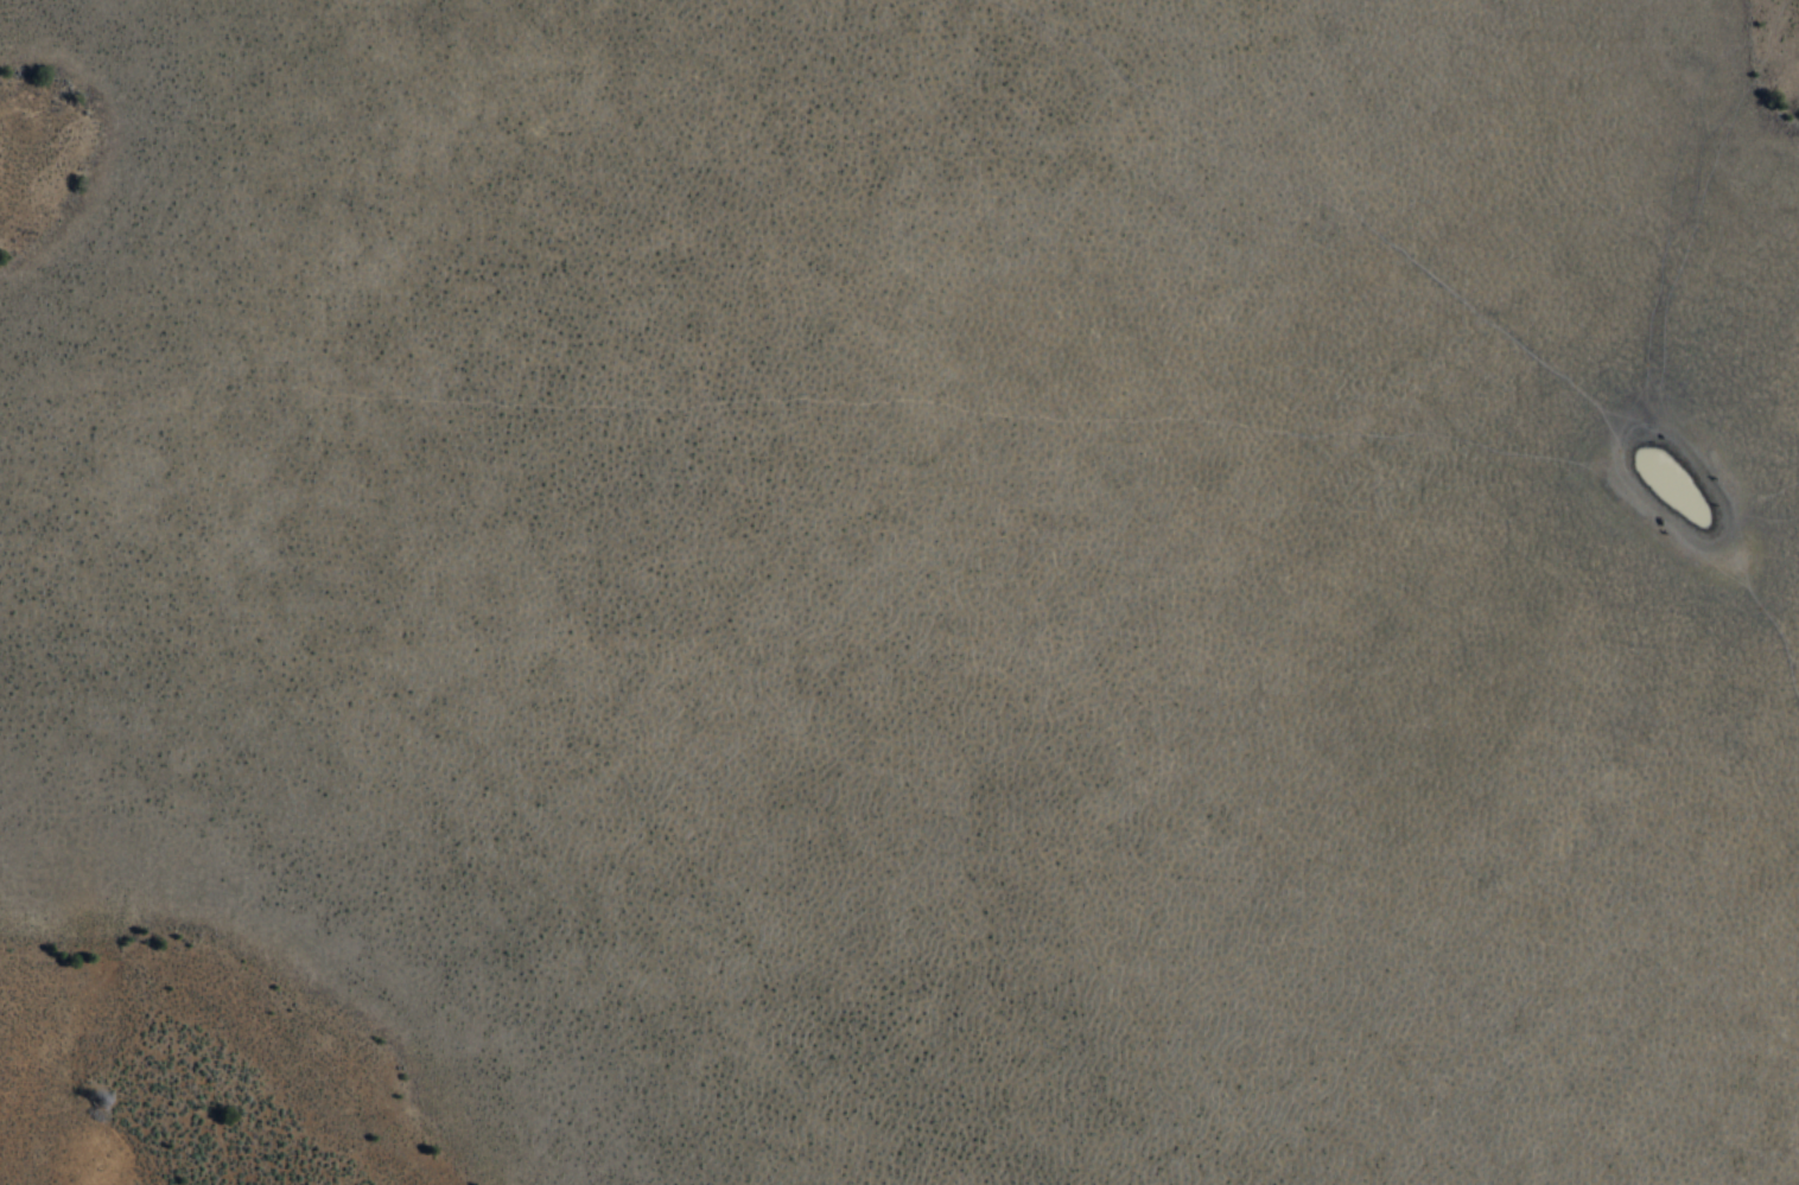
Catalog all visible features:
wastewater plant: (1667, 461)

